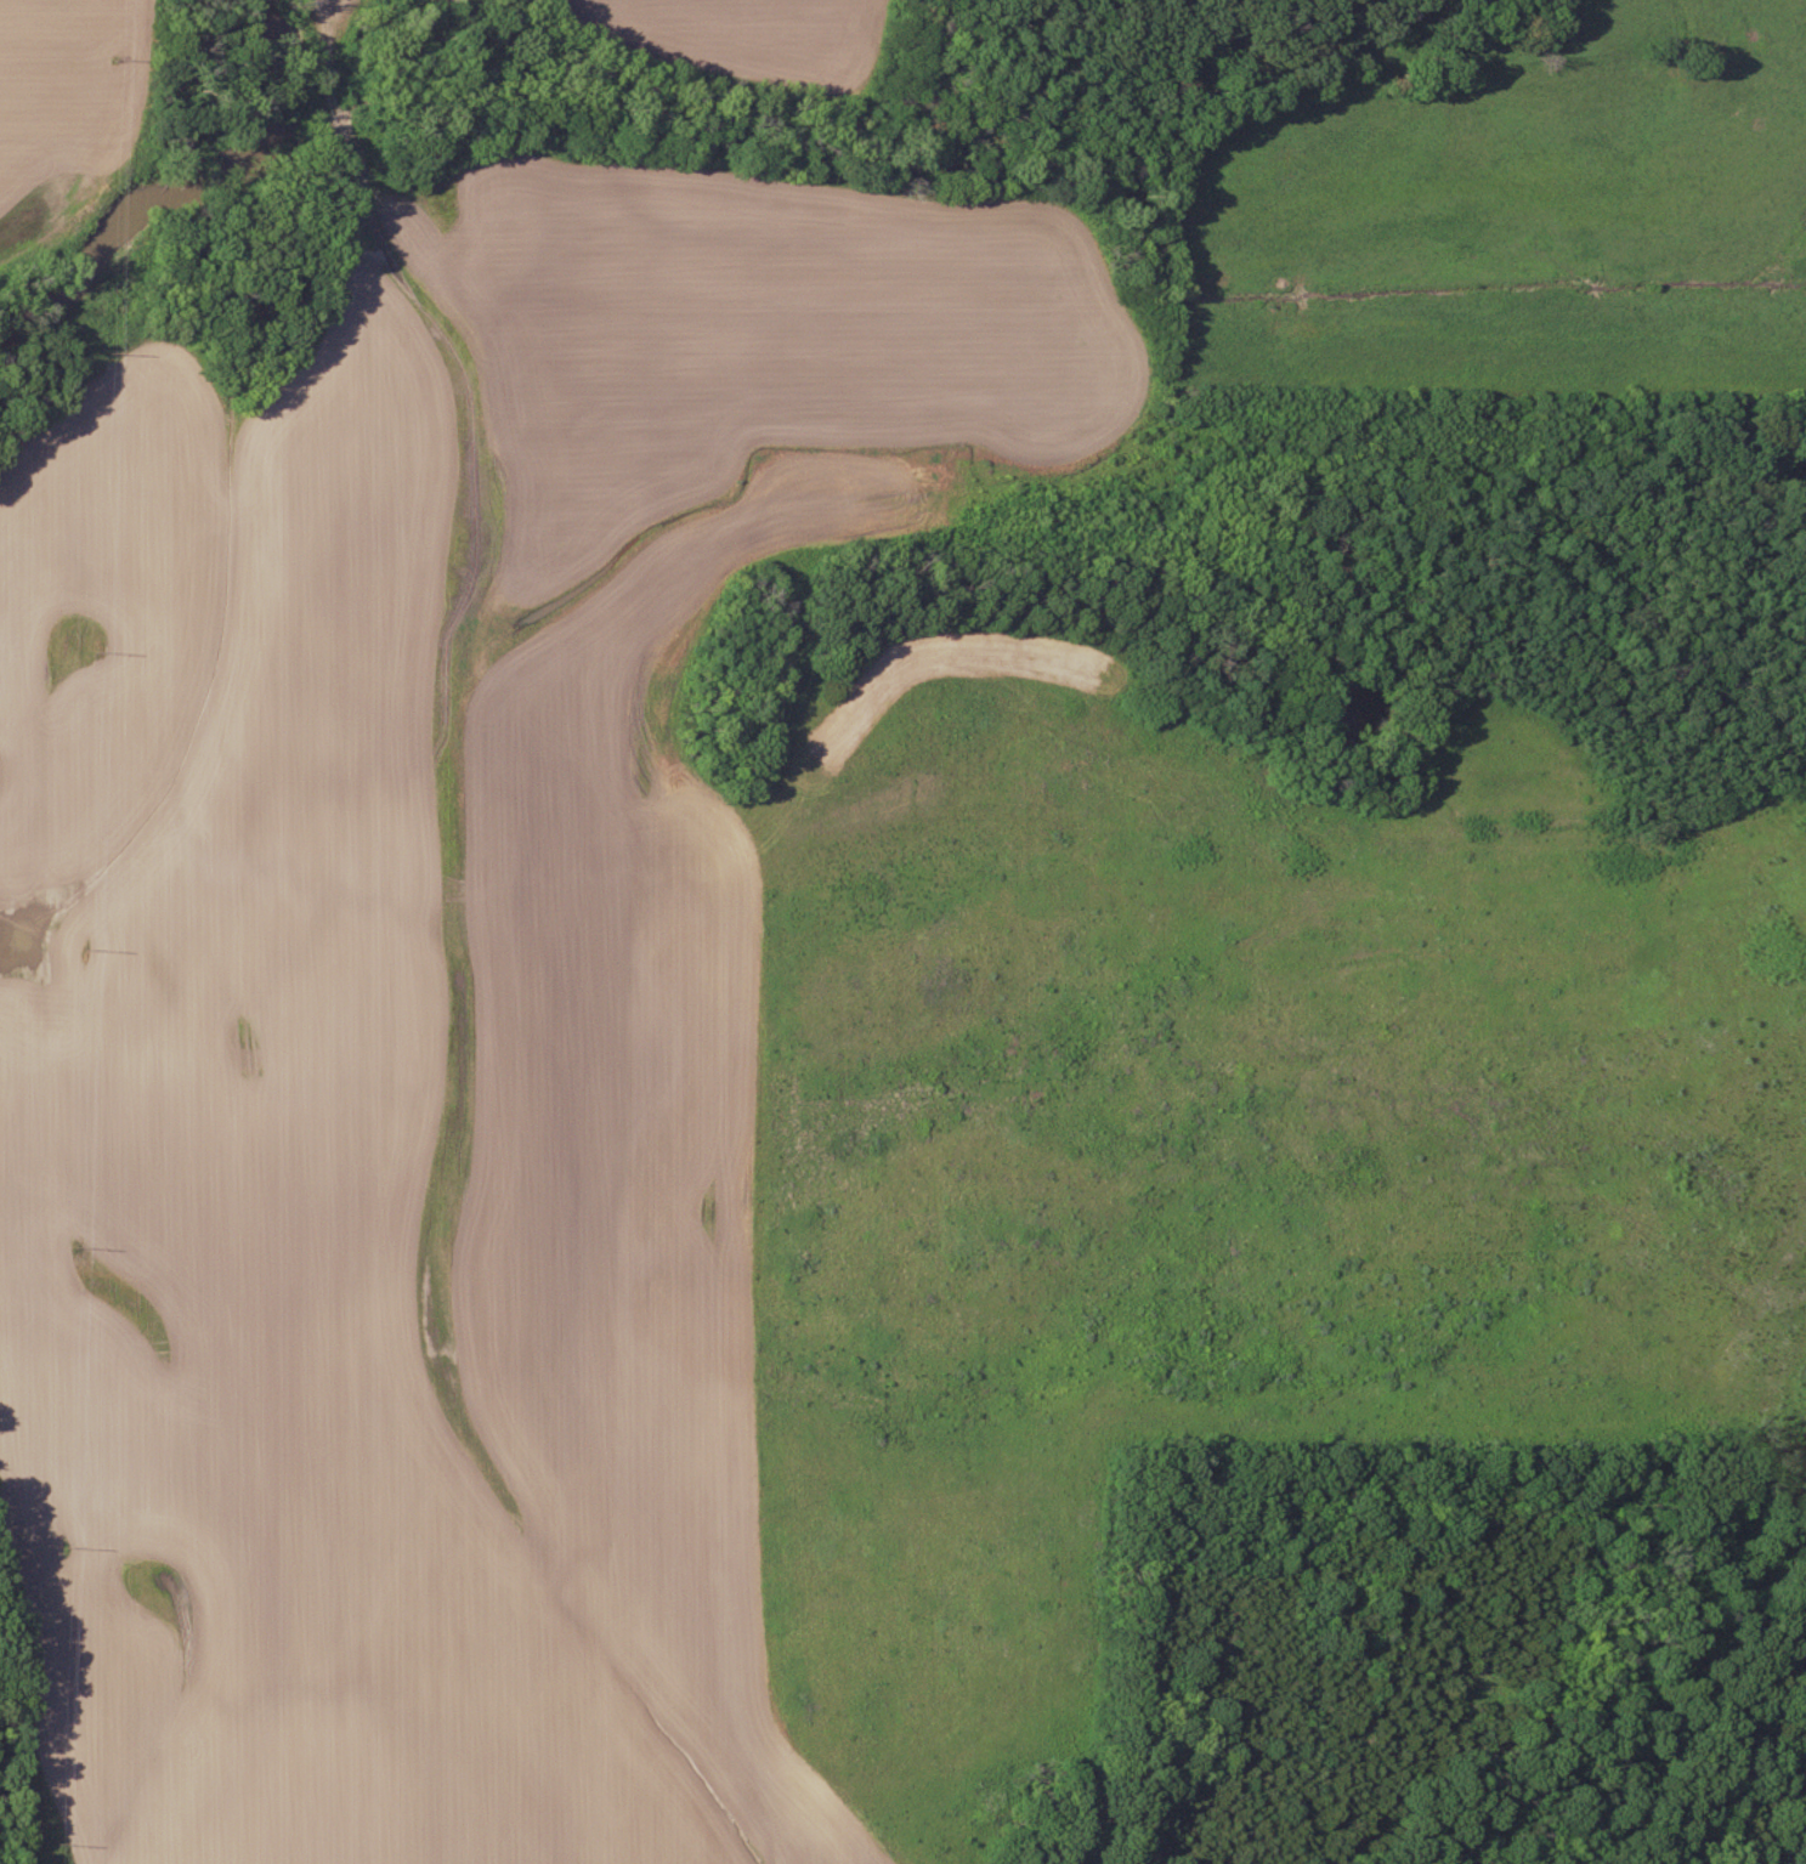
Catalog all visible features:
river: (176, 185)

